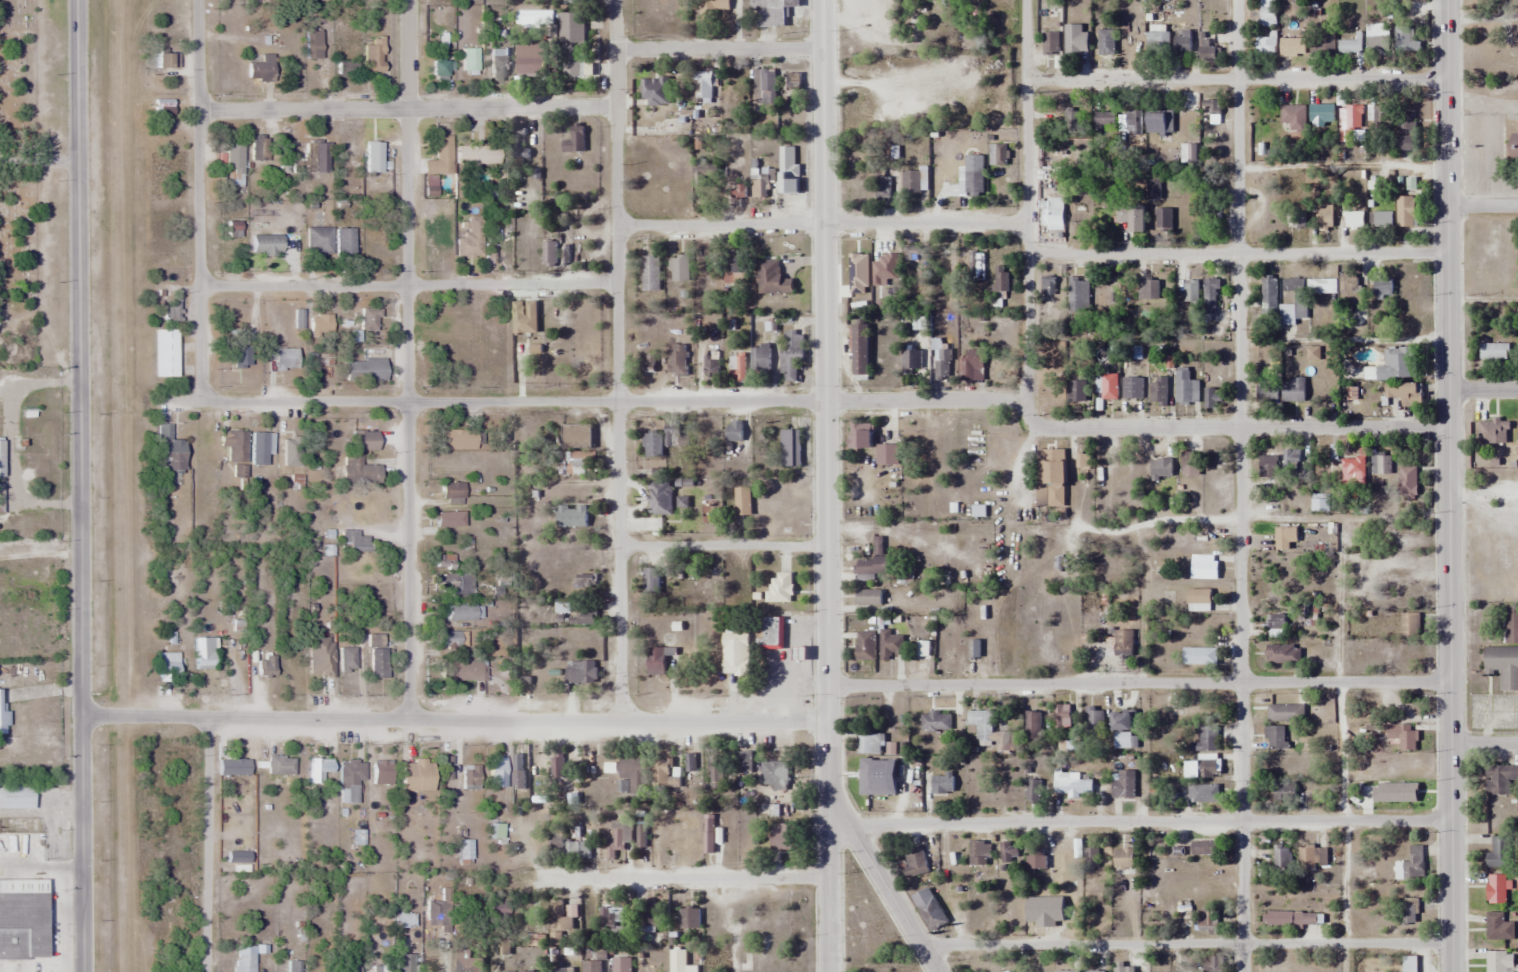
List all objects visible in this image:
building: (711, 8)
building: (771, 12)
building: (1267, 12)
building: (1376, 38)
building: (1515, 39)
building: (1322, 40)
building: (1407, 40)
building: (1105, 42)
building: (1157, 42)
building: (1182, 42)
building: (313, 44)
building: (1050, 44)
building: (571, 45)
building: (1349, 46)
building: (1279, 47)
road: (719, 50)
building: (1207, 53)
building: (373, 58)
building: (529, 58)
building: (167, 61)
building: (498, 66)
building: (345, 67)
building: (439, 67)
building: (260, 68)
road: (1234, 78)
building: (702, 87)
building: (768, 88)
building: (660, 103)
building: (1212, 106)
road: (407, 108)
building: (1323, 114)
building: (1381, 116)
building: (1349, 117)
building: (1071, 118)
building: (1116, 121)
building: (1159, 122)
building: (1293, 122)
building: (1406, 131)
building: (574, 139)
building: (347, 143)
building: (516, 146)
building: (259, 148)
building: (1513, 150)
building: (442, 154)
building: (997, 154)
building: (477, 155)
building: (319, 156)
building: (373, 156)
road: (39, 157)
building: (234, 164)
building: (788, 170)
building: (704, 174)
building: (974, 180)
building: (911, 182)
park: (16, 184)
building: (1153, 188)
building: (882, 189)
building: (758, 190)
building: (1074, 190)
road: (199, 198)
road: (1025, 200)
road: (1482, 207)
building: (1405, 211)
building: (1054, 213)
building: (1326, 216)
building: (1131, 217)
building: (1079, 218)
building: (1211, 218)
building: (1163, 219)
building: (1293, 219)
building: (1354, 219)
building: (1380, 219)
road: (821, 224)
building: (470, 239)
building: (319, 241)
building: (344, 241)
building: (549, 254)
building: (912, 254)
road: (1236, 254)
building: (734, 267)
building: (975, 267)
building: (678, 268)
building: (651, 273)
building: (771, 279)
building: (1000, 279)
road: (408, 284)
building: (1047, 285)
building: (1147, 289)
building: (1382, 289)
building: (1349, 290)
building: (1190, 291)
building: (1078, 294)
building: (1268, 295)
building: (1209, 297)
building: (1300, 298)
building: (171, 311)
building: (583, 313)
building: (369, 319)
building: (518, 320)
building: (320, 325)
building: (1207, 330)
building: (860, 351)
building: (535, 352)
building: (1493, 352)
building: (165, 353)
building: (790, 355)
building: (241, 357)
building: (284, 358)
road: (407, 359)
road: (618, 360)
building: (677, 360)
building: (760, 360)
building: (711, 362)
building: (910, 363)
building: (942, 364)
building: (971, 365)
building: (1394, 366)
building: (736, 368)
building: (364, 370)
building: (1107, 387)
building: (1132, 388)
building: (1186, 388)
building: (1293, 390)
road: (1482, 390)
building: (1075, 391)
building: (1158, 391)
building: (1267, 393)
building: (1405, 394)
building: (1211, 399)
road: (834, 401)
building: (734, 431)
building: (1501, 431)
building: (671, 435)
building: (860, 435)
building: (457, 438)
building: (364, 440)
building: (652, 443)
building: (579, 444)
building: (260, 447)
building: (790, 448)
building: (170, 449)
building: (235, 450)
building: (886, 454)
building: (1334, 454)
building: (1291, 457)
building: (1082, 458)
building: (0, 459)
building: (1190, 461)
building: (1380, 463)
building: (1268, 465)
building: (1353, 467)
building: (1161, 468)
building: (358, 471)
road: (1017, 475)
building: (1052, 476)
building: (1407, 482)
road: (1239, 485)
road: (80, 486)
railway: (130, 486)
road: (825, 486)
road: (1447, 486)
building: (452, 489)
building: (1, 498)
building: (660, 498)
building: (742, 501)
building: (1321, 503)
building: (571, 516)
building: (444, 518)
road: (1130, 526)
road: (889, 531)
building: (1283, 537)
building: (354, 541)
road: (722, 546)
building: (873, 560)
building: (1203, 567)
building: (585, 582)
building: (651, 582)
building: (452, 583)
building: (780, 588)
building: (868, 597)
building: (1198, 600)
building: (460, 611)
building: (583, 616)
building: (1276, 621)
building: (1510, 623)
building: (1410, 624)
building: (772, 633)
building: (452, 639)
building: (1123, 643)
building: (890, 645)
building: (865, 646)
building: (735, 653)
building: (1283, 654)
building: (321, 656)
building: (1199, 656)
building: (347, 659)
building: (656, 661)
building: (378, 662)
building: (266, 665)
building: (1503, 665)
building: (463, 669)
building: (581, 671)
road: (1137, 682)
road: (454, 719)
building: (2, 721)
building: (935, 721)
building: (1093, 721)
building: (1032, 727)
building: (986, 729)
building: (1064, 729)
building: (1121, 730)
building: (1402, 735)
building: (1275, 737)
building: (869, 742)
building: (1205, 742)
road: (1483, 742)
building: (744, 762)
building: (281, 764)
building: (556, 765)
building: (233, 766)
building: (596, 766)
building: (1208, 766)
building: (446, 768)
building: (321, 771)
building: (519, 771)
building: (381, 772)
building: (715, 772)
building: (873, 772)
building: (498, 774)
building: (632, 774)
building: (774, 774)
building: (416, 775)
building: (664, 775)
building: (472, 776)
building: (350, 779)
building: (1501, 780)
building: (942, 783)
building: (1122, 784)
building: (1071, 785)
building: (1032, 791)
building: (1203, 792)
building: (1284, 793)
building: (15, 794)
building: (572, 800)
road: (1147, 821)
building: (495, 830)
building: (641, 831)
building: (708, 834)
building: (784, 836)
building: (658, 838)
building: (617, 840)
building: (555, 843)
road: (208, 844)
building: (1203, 848)
building: (464, 849)
building: (577, 850)
building: (741, 851)
building: (979, 853)
building: (1500, 853)
building: (1009, 854)
building: (1306, 857)
building: (1036, 858)
building: (1090, 858)
building: (1281, 861)
building: (915, 862)
building: (1410, 865)
road: (683, 878)
road: (880, 884)
building: (1497, 889)
building: (438, 913)
building: (932, 914)
building: (1038, 914)
building: (1406, 914)
building: (21, 918)
building: (650, 918)
building: (689, 918)
building: (1284, 918)
building: (403, 919)
building: (611, 920)
building: (559, 921)
building: (1498, 927)
road: (1183, 944)
building: (468, 960)
building: (678, 961)
building: (1499, 961)
building: (243, 962)
building: (404, 962)
building: (1409, 964)
building: (621, 965)
building: (293, 966)
building: (591, 966)
building: (347, 968)
building: (380, 969)
building: (990, 969)
building: (560, 970)
building: (1123, 970)
building: (1066, 971)
building: (1094, 971)

